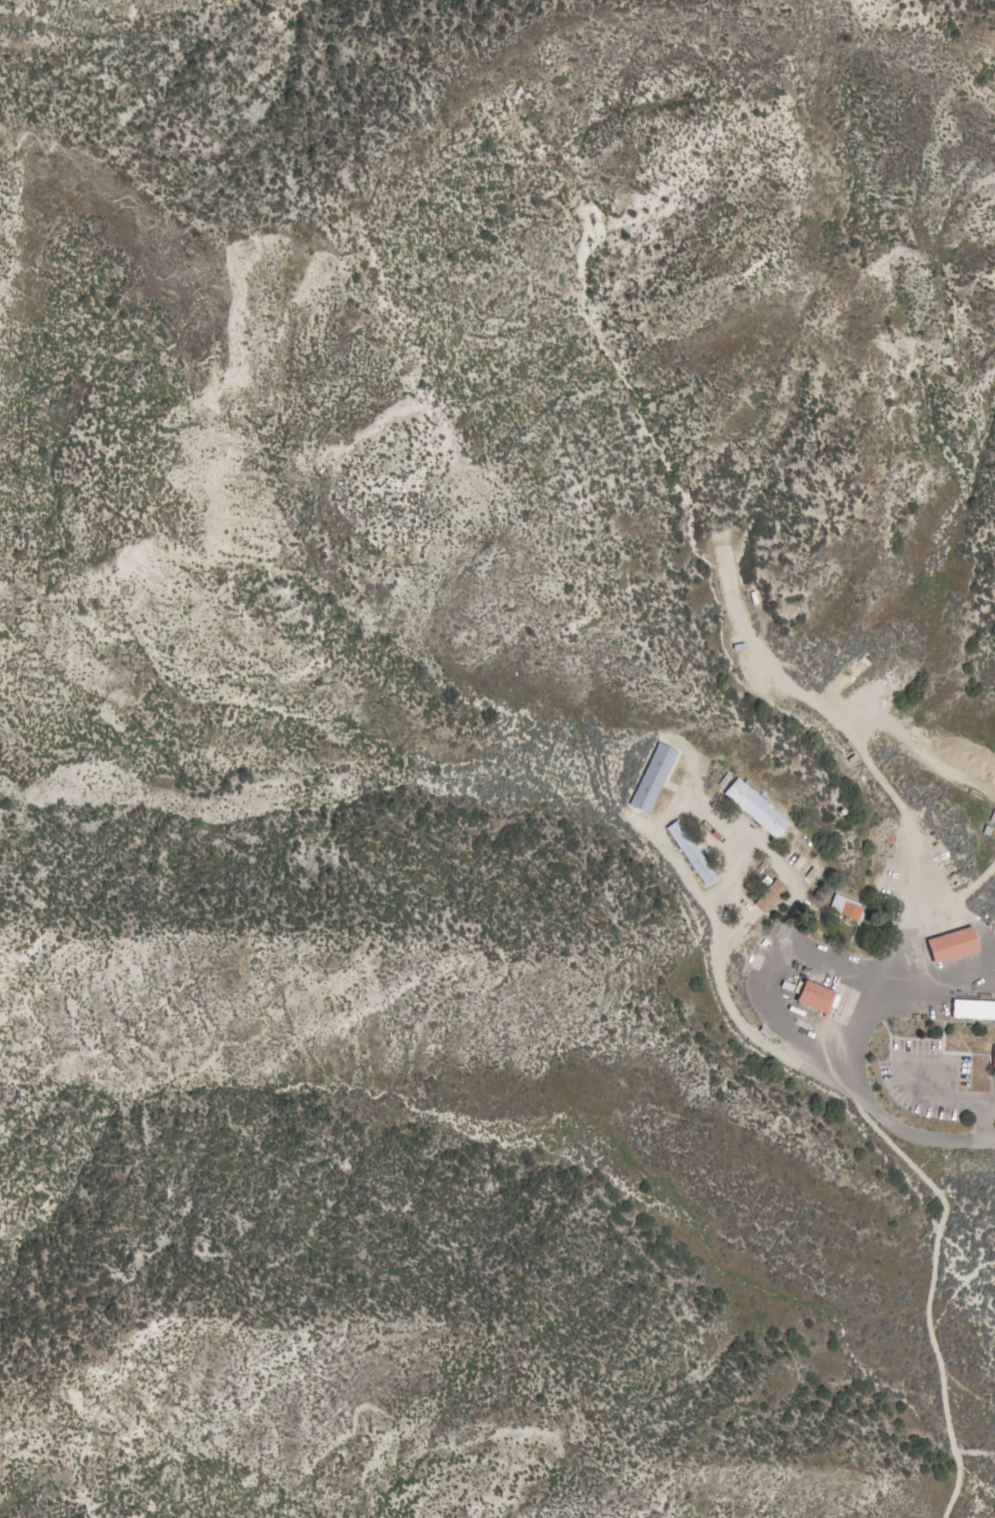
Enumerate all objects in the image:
building: (652, 777)
building: (755, 806)
building: (689, 852)
building: (769, 895)
road: (697, 900)
building: (846, 908)
building: (951, 944)
building: (814, 996)
building: (969, 1010)
road: (845, 1055)
building: (993, 1056)

